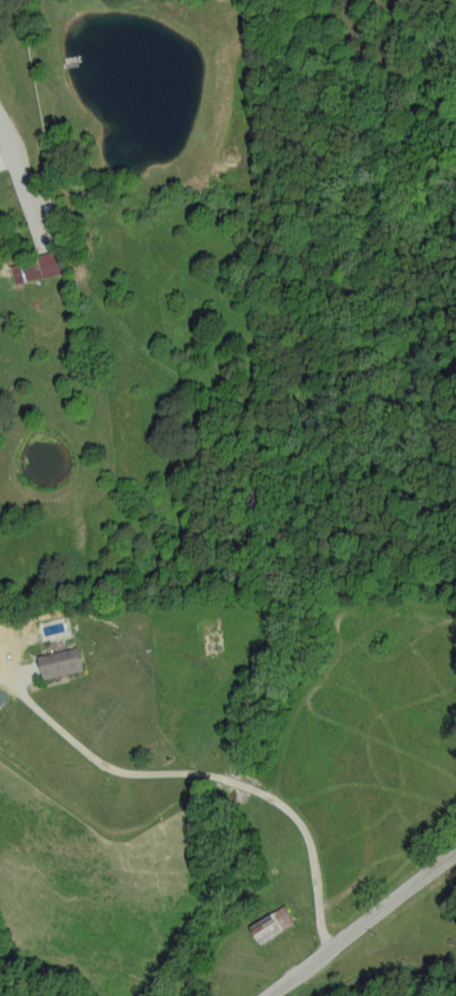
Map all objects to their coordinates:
building: (2, 158)
road: (20, 188)
building: (36, 267)
building: (61, 661)
building: (2, 697)
road: (221, 771)
building: (272, 923)
road: (362, 926)

